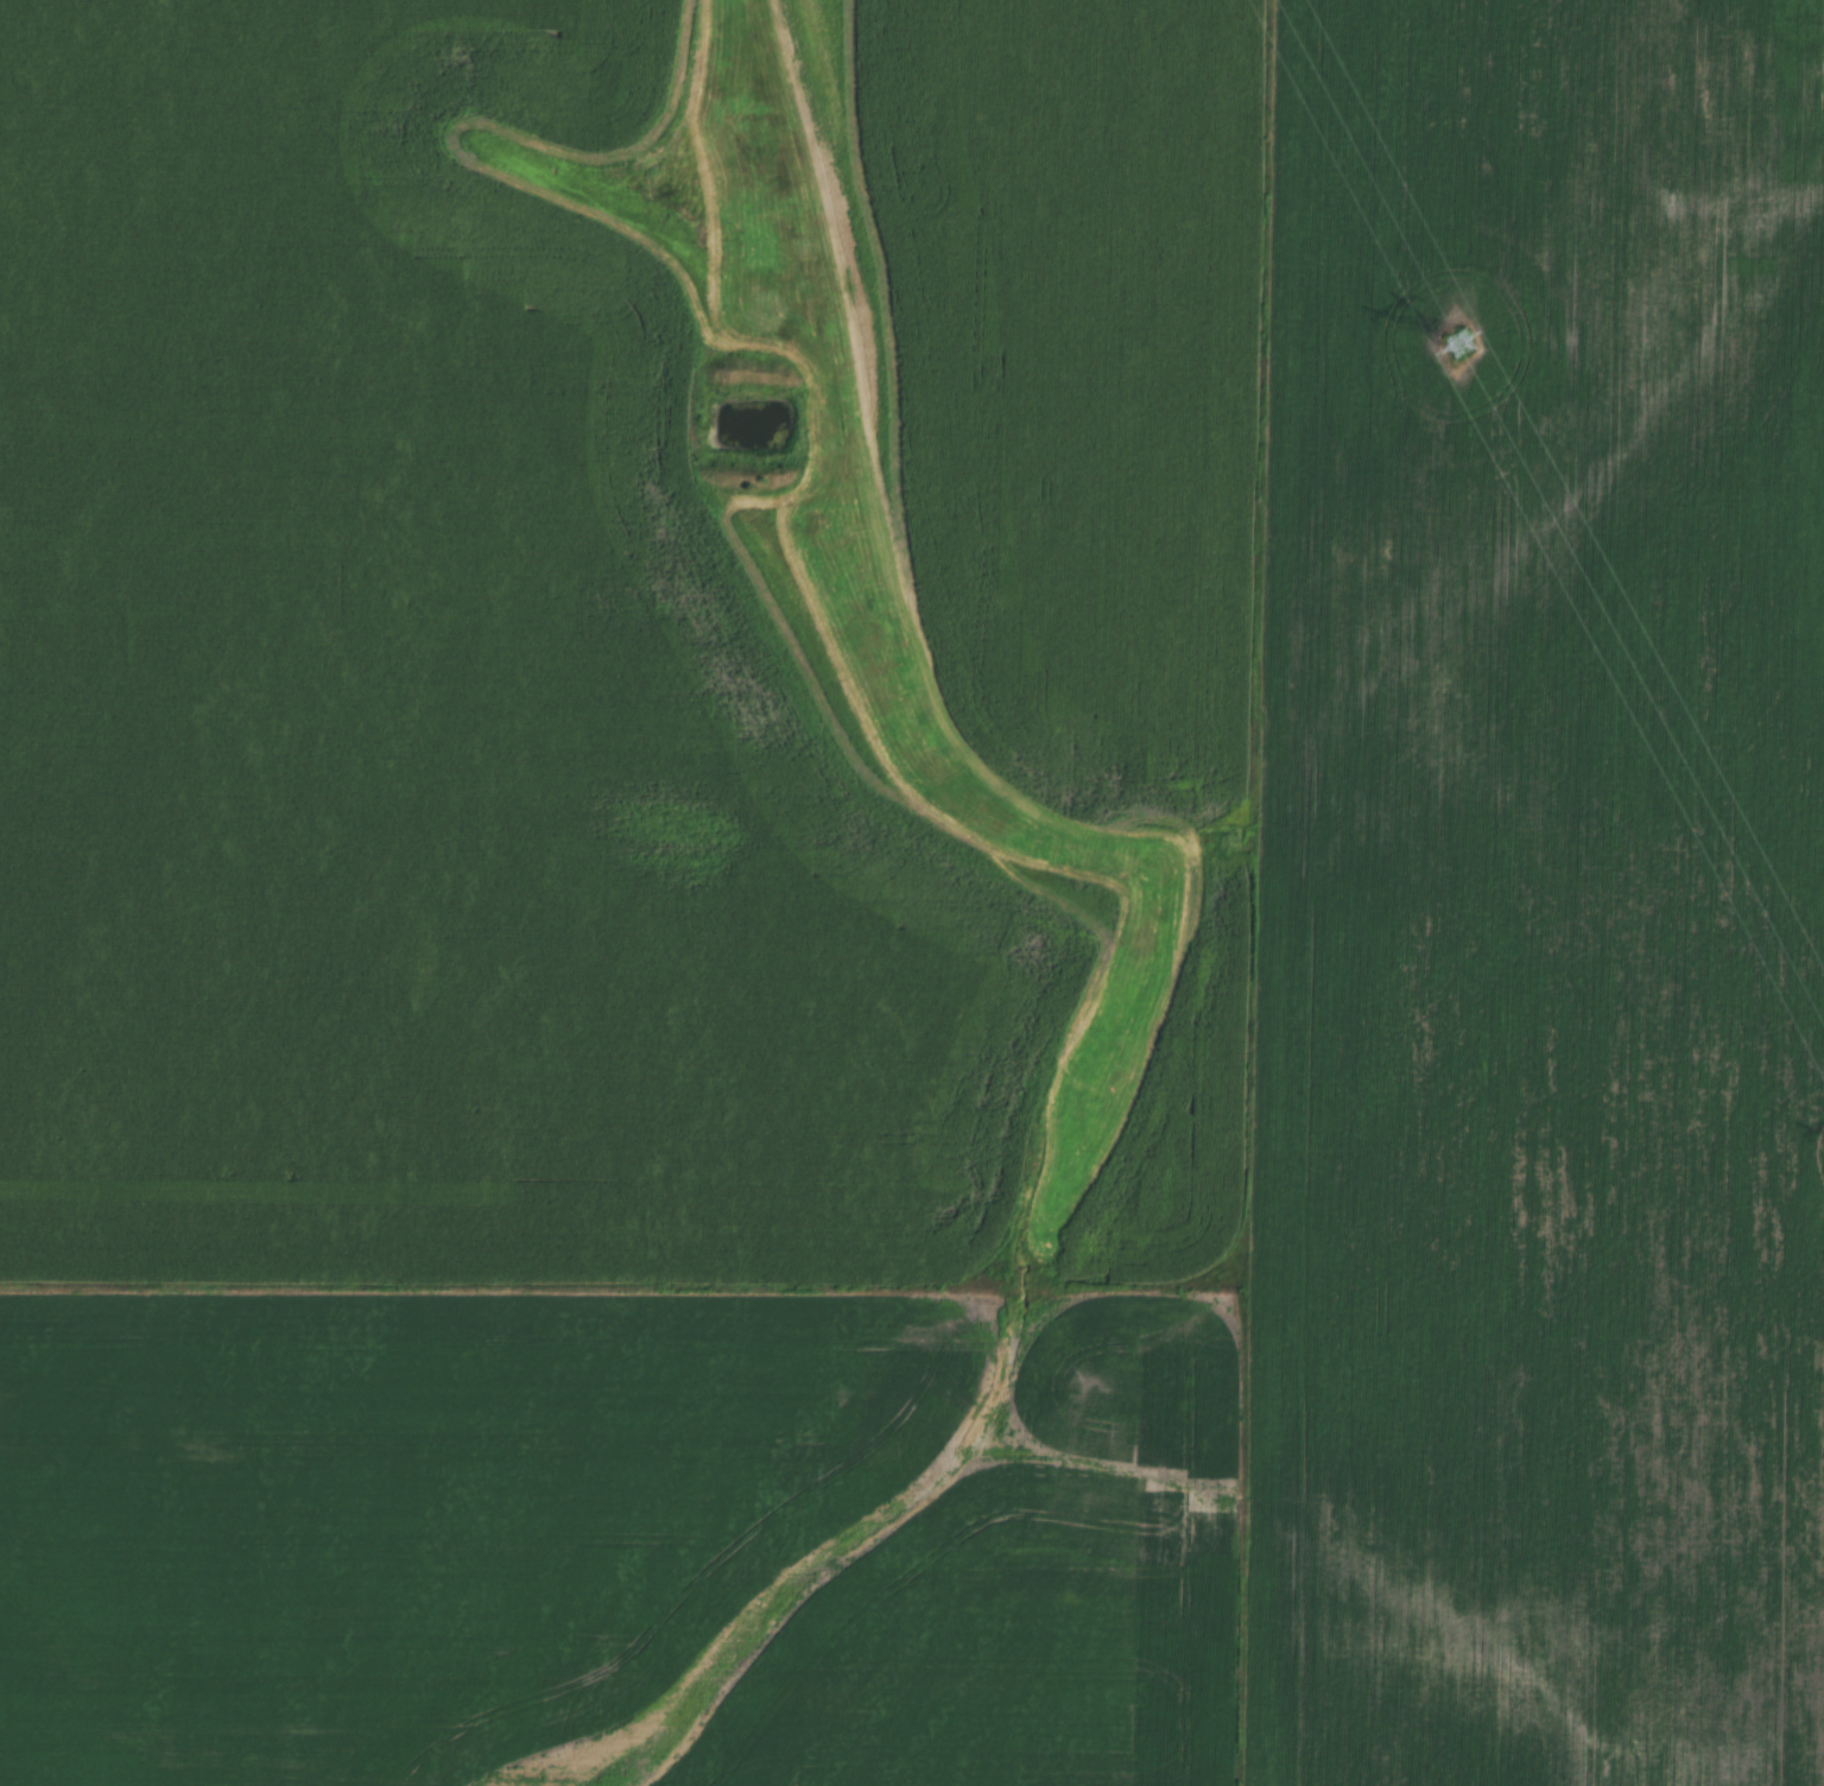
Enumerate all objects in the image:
power tower: (1462, 348)

